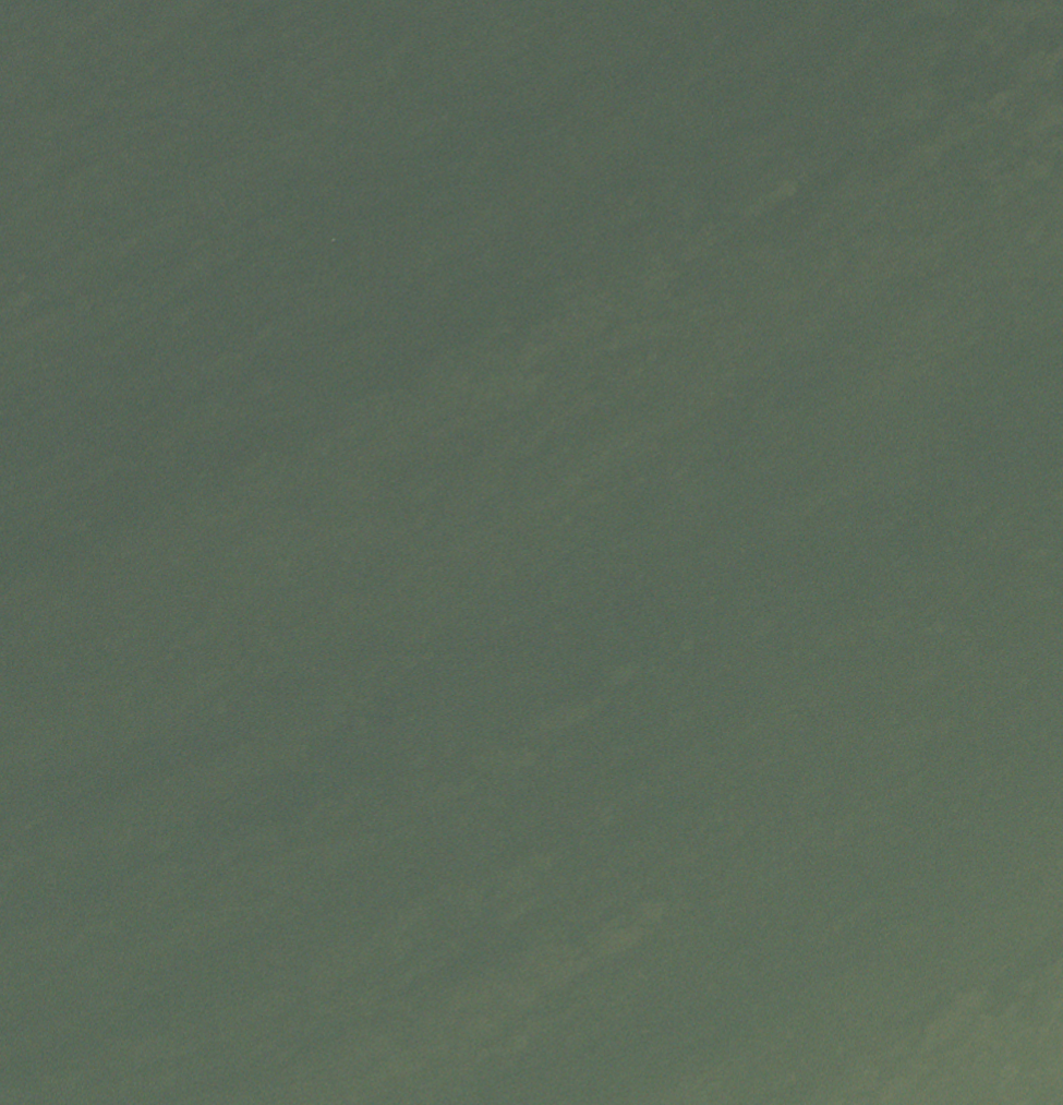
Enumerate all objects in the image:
river: (416, 300)

